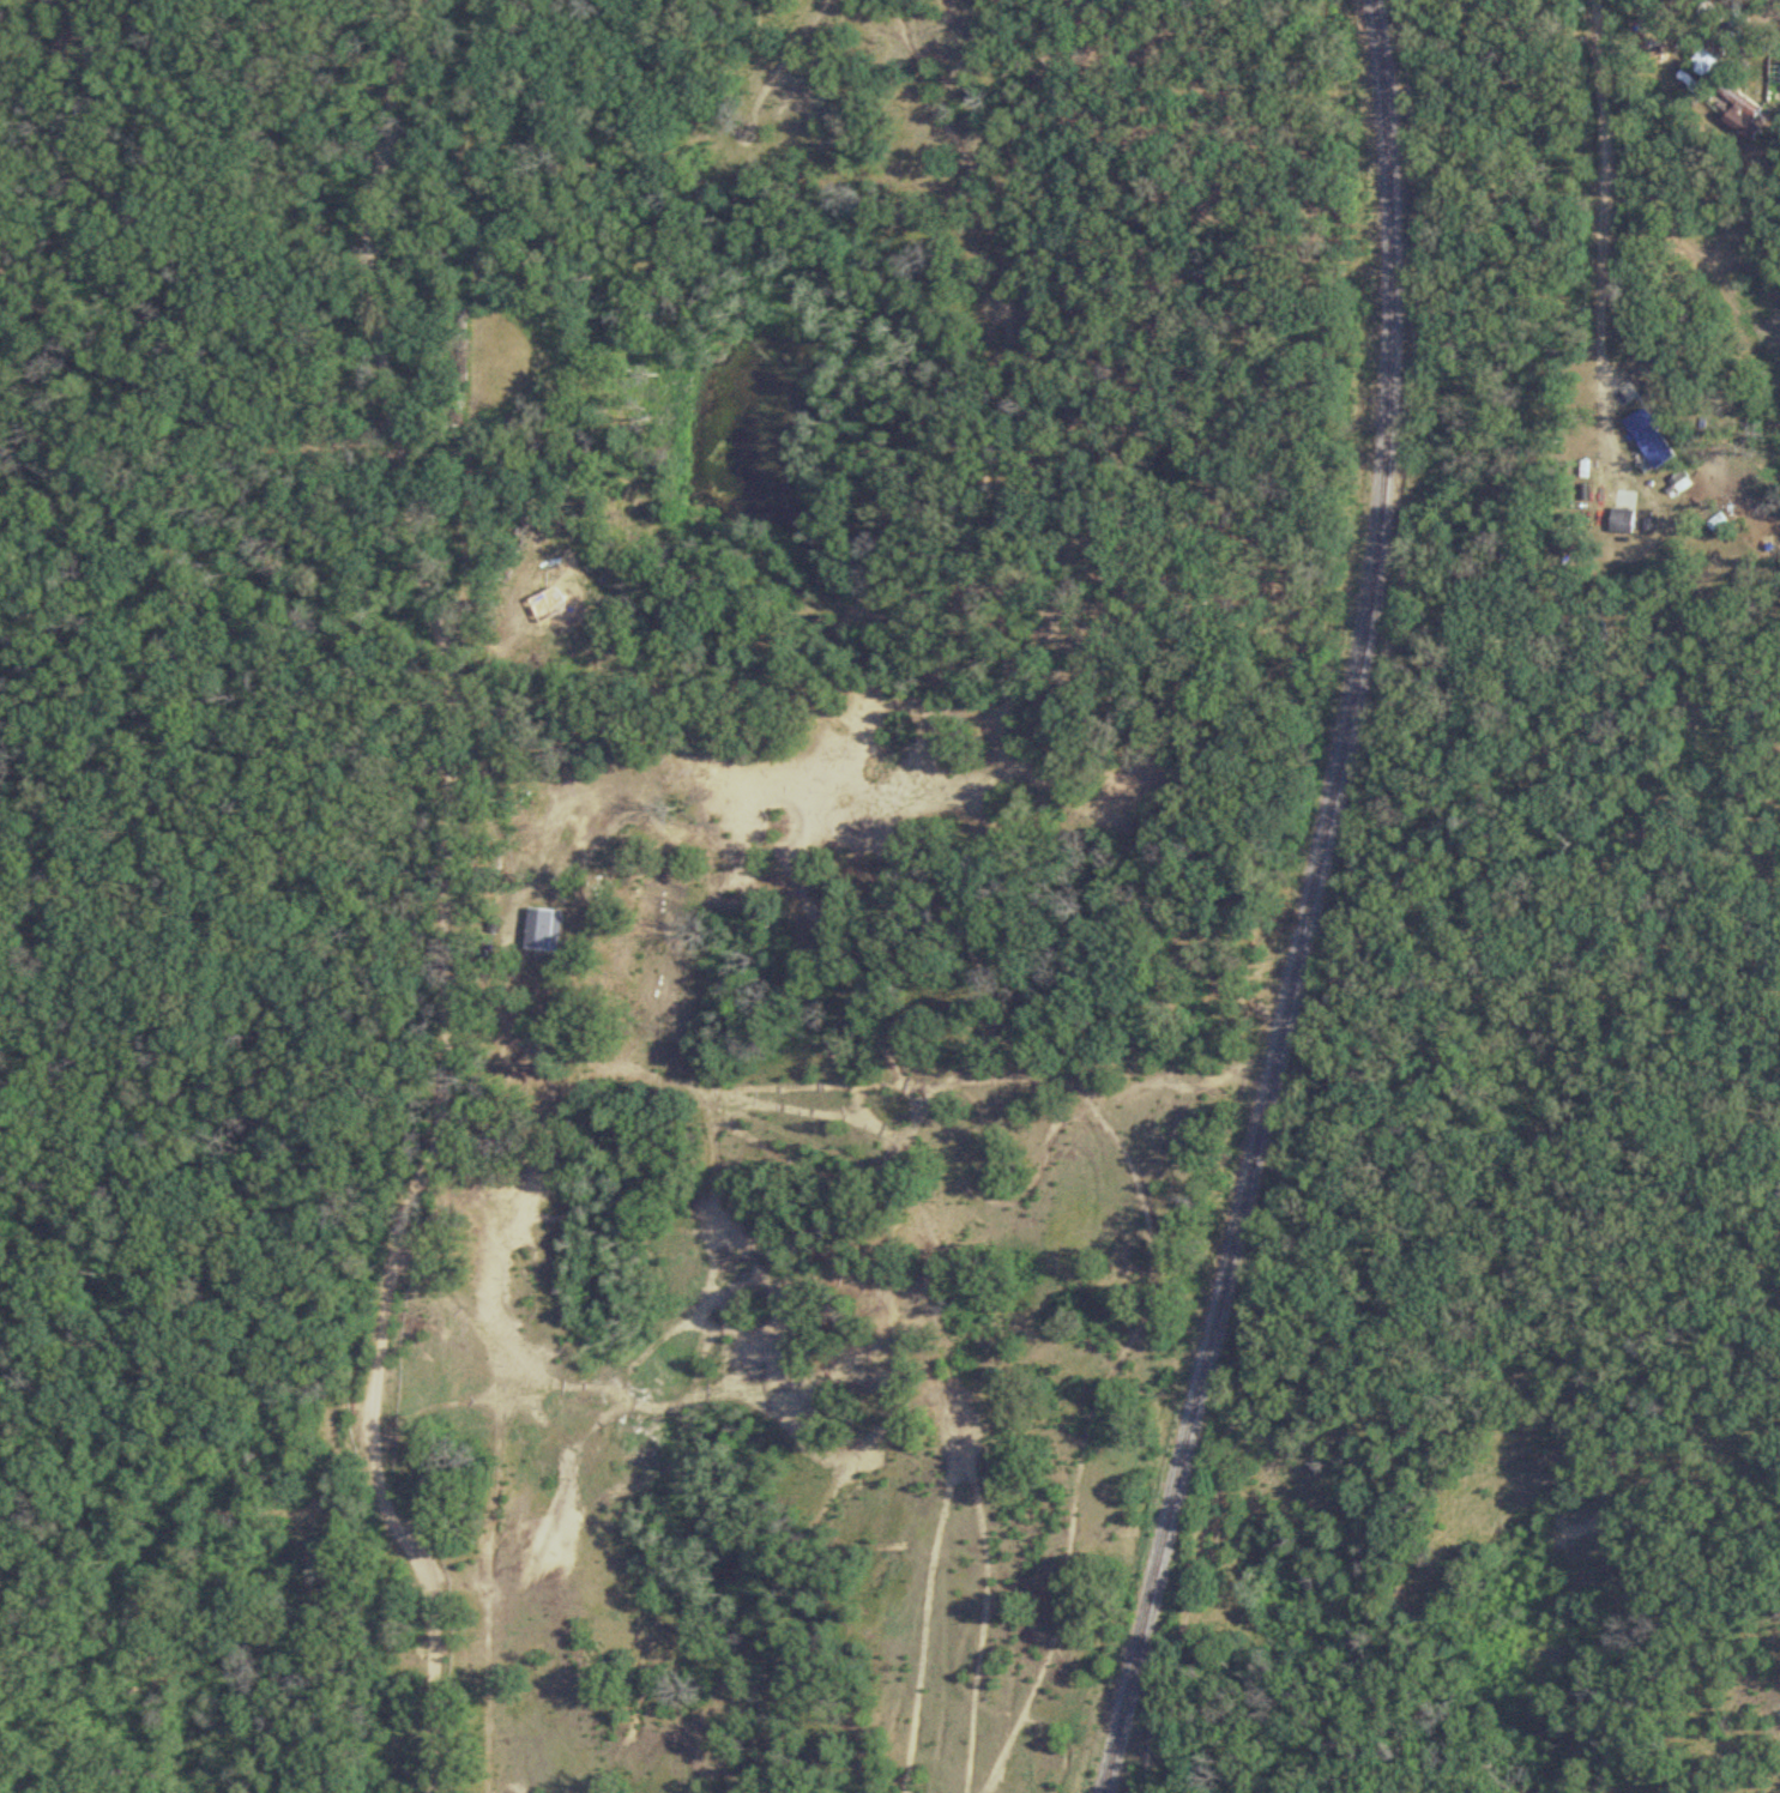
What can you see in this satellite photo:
road: (1707, 35)
building: (1704, 64)
building: (1742, 113)
road: (1605, 239)
road: (182, 400)
building: (1651, 439)
building: (1622, 520)
road: (434, 901)
railway: (1304, 905)
road: (168, 1466)

